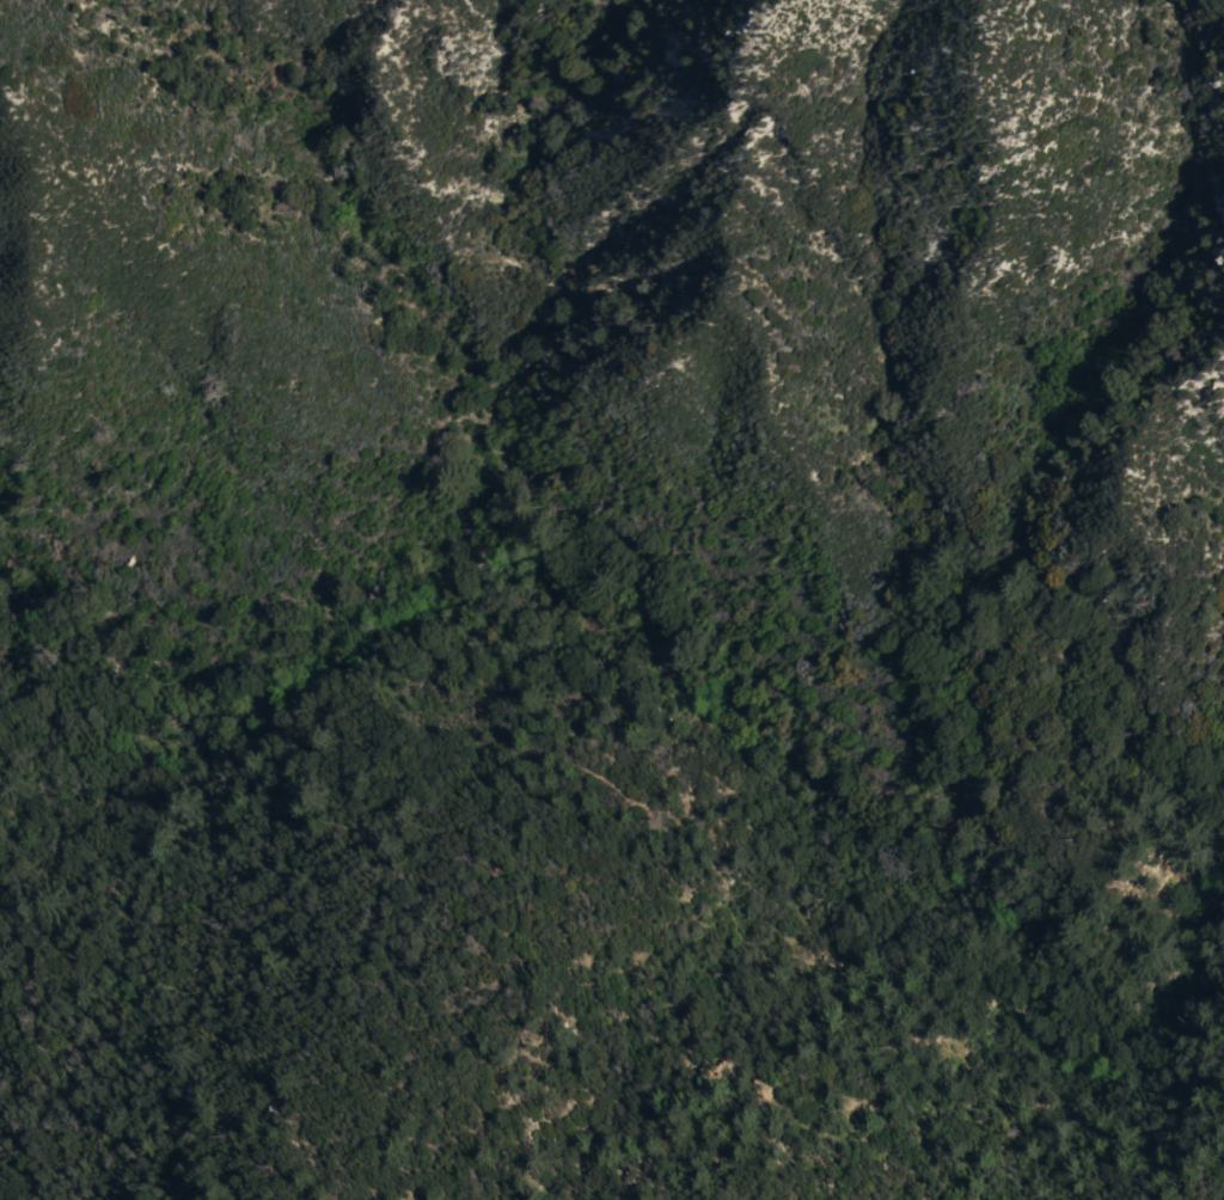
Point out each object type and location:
road: (263, 765)

